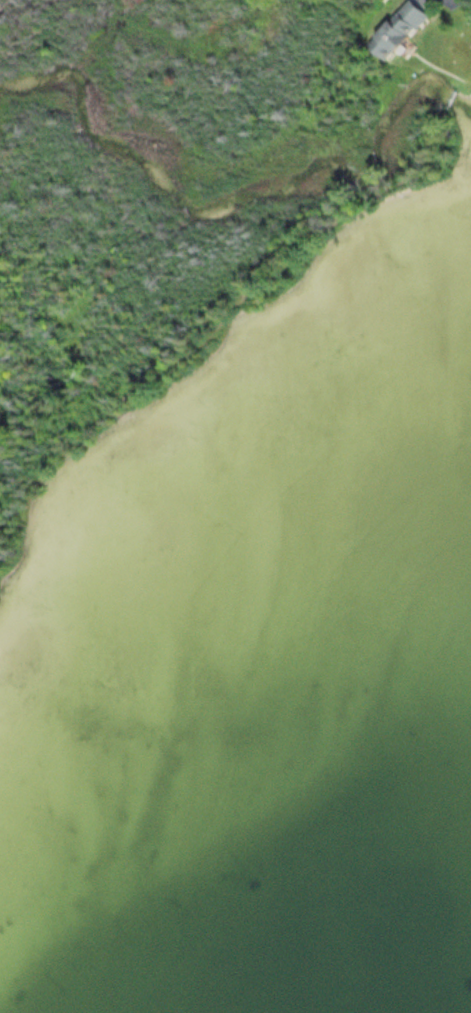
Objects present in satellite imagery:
building: (397, 28)
dam: (448, 97)

